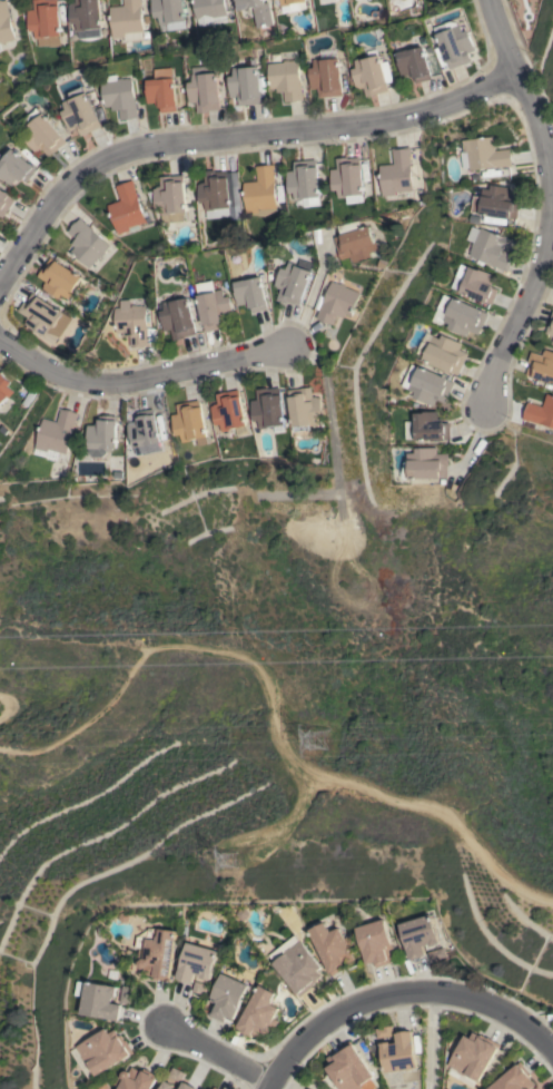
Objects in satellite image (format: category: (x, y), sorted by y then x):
building: (286, 1)
building: (326, 1)
building: (208, 8)
building: (257, 11)
building: (168, 14)
building: (86, 18)
building: (127, 20)
building: (46, 21)
building: (4, 23)
building: (455, 43)
building: (415, 63)
building: (372, 75)
building: (326, 77)
building: (286, 79)
building: (245, 85)
building: (204, 91)
building: (161, 92)
building: (119, 96)
building: (80, 111)
building: (42, 133)
road: (228, 137)
building: (484, 154)
building: (16, 167)
building: (396, 173)
road: (552, 173)
building: (303, 179)
building: (347, 179)
building: (260, 192)
building: (219, 194)
building: (169, 196)
building: (6, 202)
building: (497, 202)
road: (547, 204)
building: (126, 208)
building: (354, 242)
building: (86, 243)
building: (490, 247)
building: (58, 278)
building: (293, 282)
building: (477, 283)
building: (251, 294)
building: (336, 302)
building: (214, 306)
building: (40, 314)
building: (463, 315)
building: (178, 317)
building: (134, 324)
building: (550, 325)
building: (552, 341)
building: (444, 353)
building: (541, 365)
road: (141, 379)
building: (432, 385)
building: (4, 389)
building: (303, 408)
building: (268, 409)
building: (228, 410)
building: (540, 412)
building: (189, 422)
building: (428, 426)
building: (144, 429)
building: (57, 432)
building: (101, 435)
building: (427, 463)
power tower: (318, 743)
power tower: (231, 860)
building: (417, 935)
building: (374, 942)
building: (332, 946)
building: (157, 952)
building: (435, 953)
building: (197, 962)
building: (296, 963)
building: (128, 993)
building: (227, 998)
building: (100, 1000)
road: (397, 1001)
building: (258, 1014)
building: (385, 1031)
road: (429, 1044)
road: (214, 1048)
building: (103, 1051)
building: (399, 1052)
building: (472, 1058)
building: (347, 1068)
building: (138, 1079)
building: (514, 1079)
building: (168, 1086)
building: (188, 1086)
building: (206, 1087)
building: (215, 1088)

